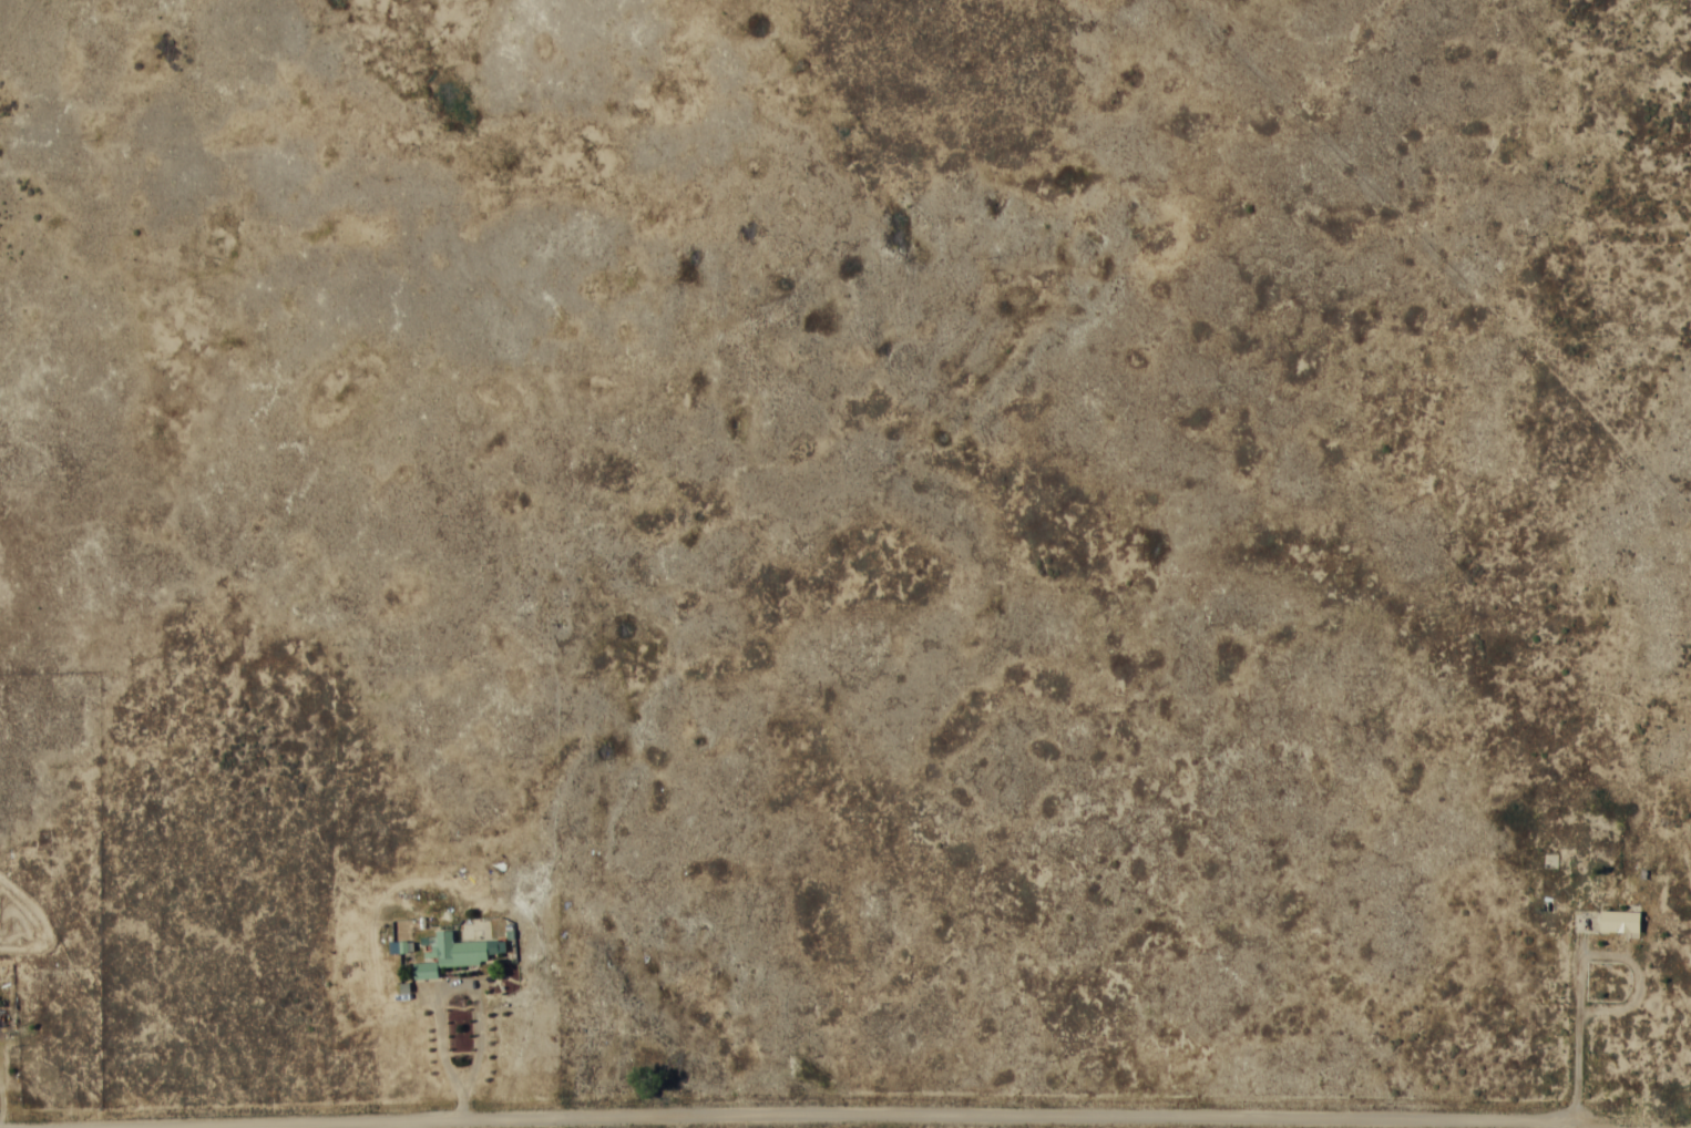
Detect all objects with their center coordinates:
road: (1679, 48)
road: (1623, 827)
building: (1619, 920)
building: (450, 953)
building: (2, 1017)
road: (804, 1116)
road: (1578, 1124)

